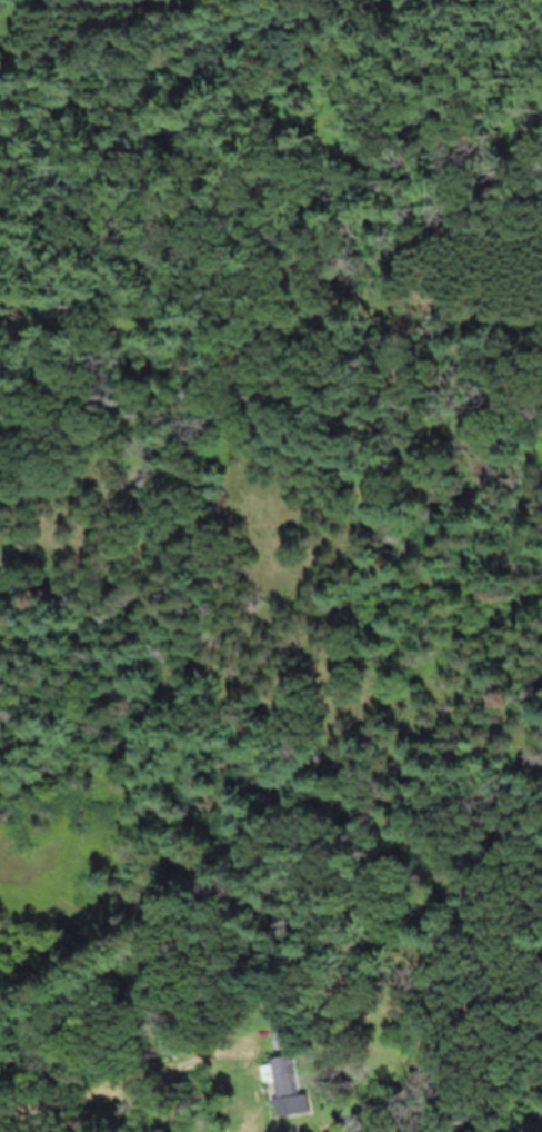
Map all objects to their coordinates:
building: (283, 1078)

